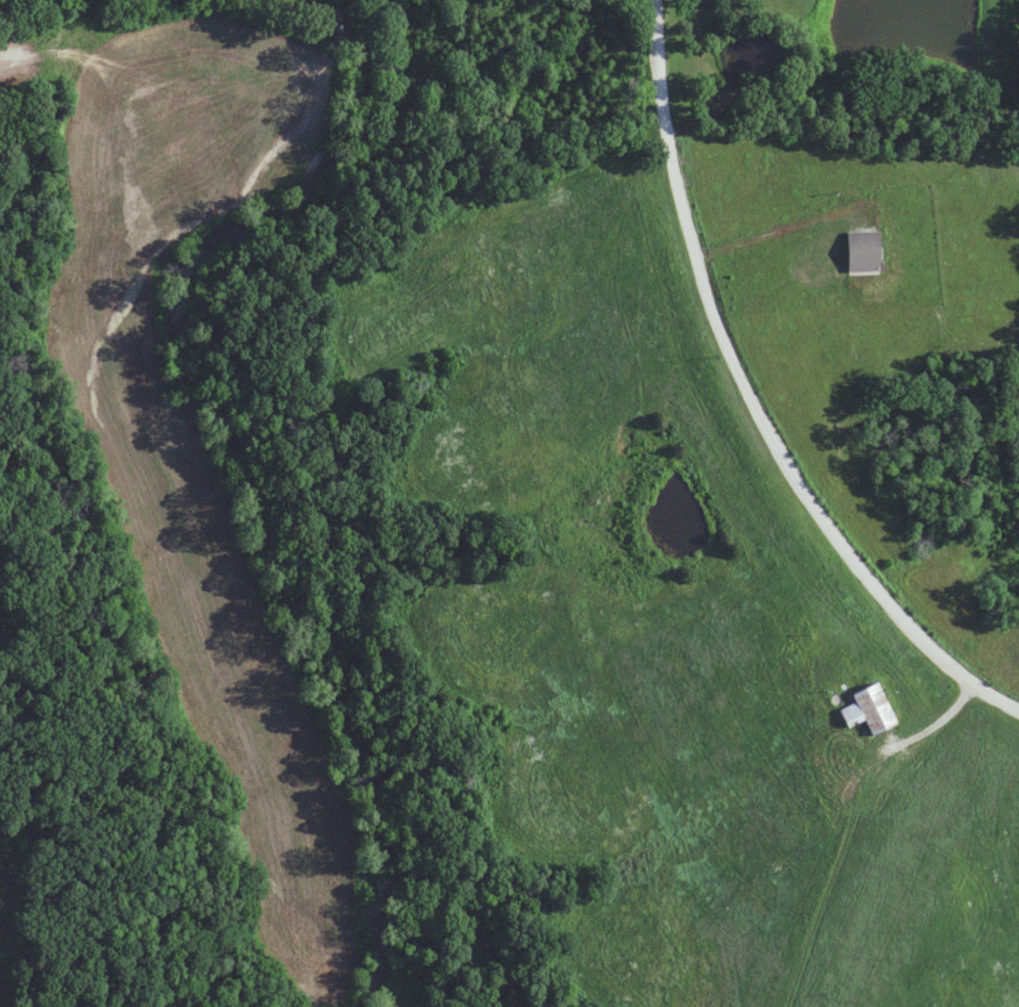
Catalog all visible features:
building: (864, 252)
road: (736, 419)
building: (868, 708)

